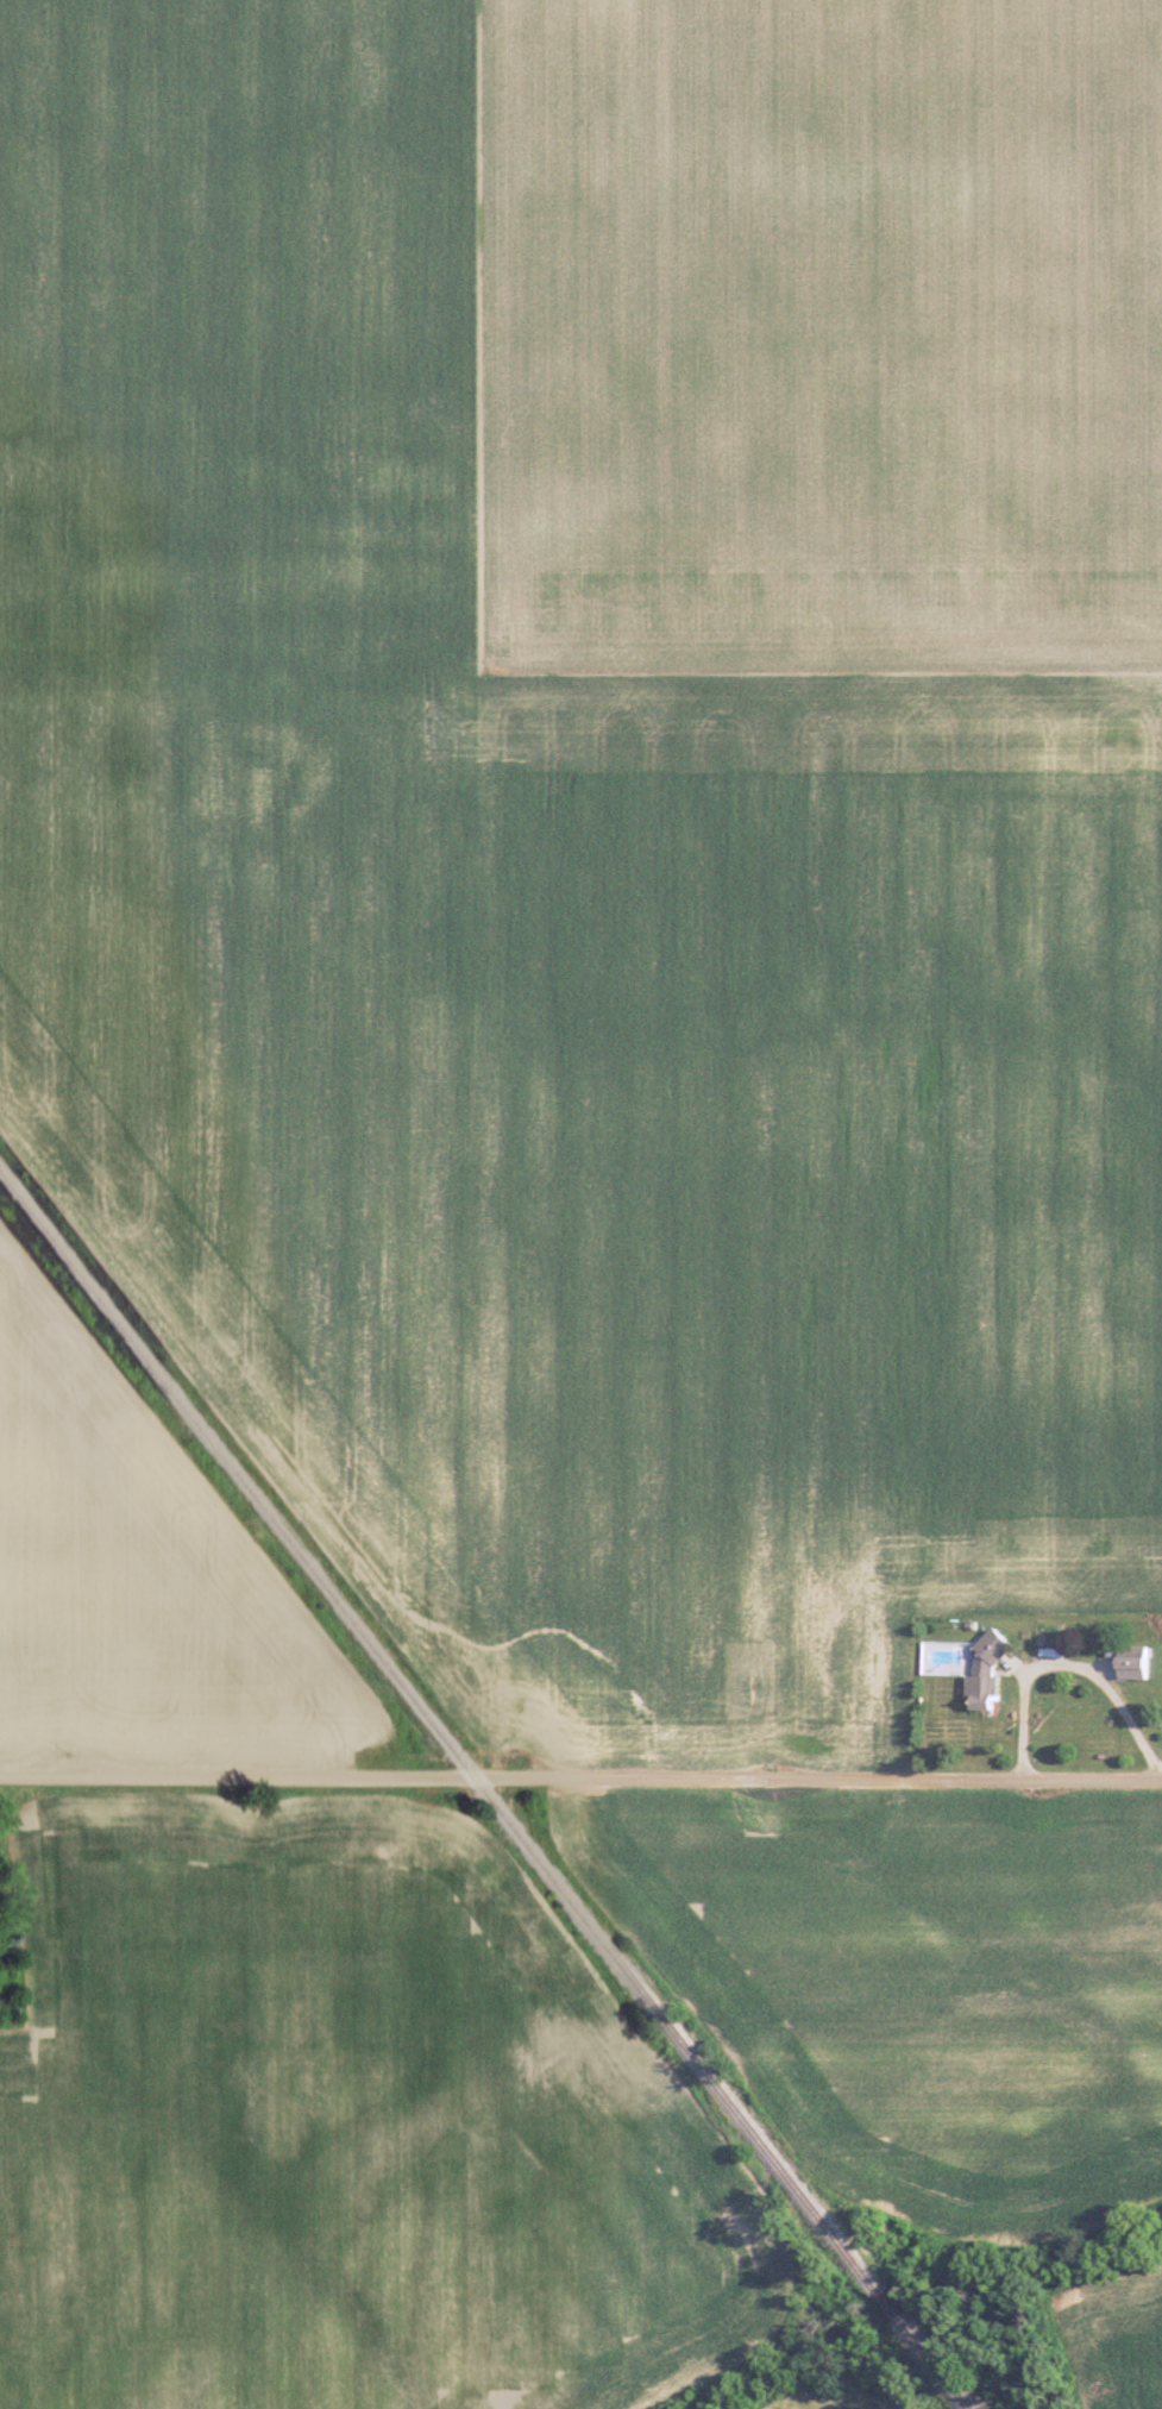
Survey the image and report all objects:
building: (1138, 1662)
road: (1066, 1663)
building: (992, 1674)
railway: (432, 1719)
road: (580, 1777)
river: (916, 2282)
railway: (894, 2315)
railway: (947, 2382)

